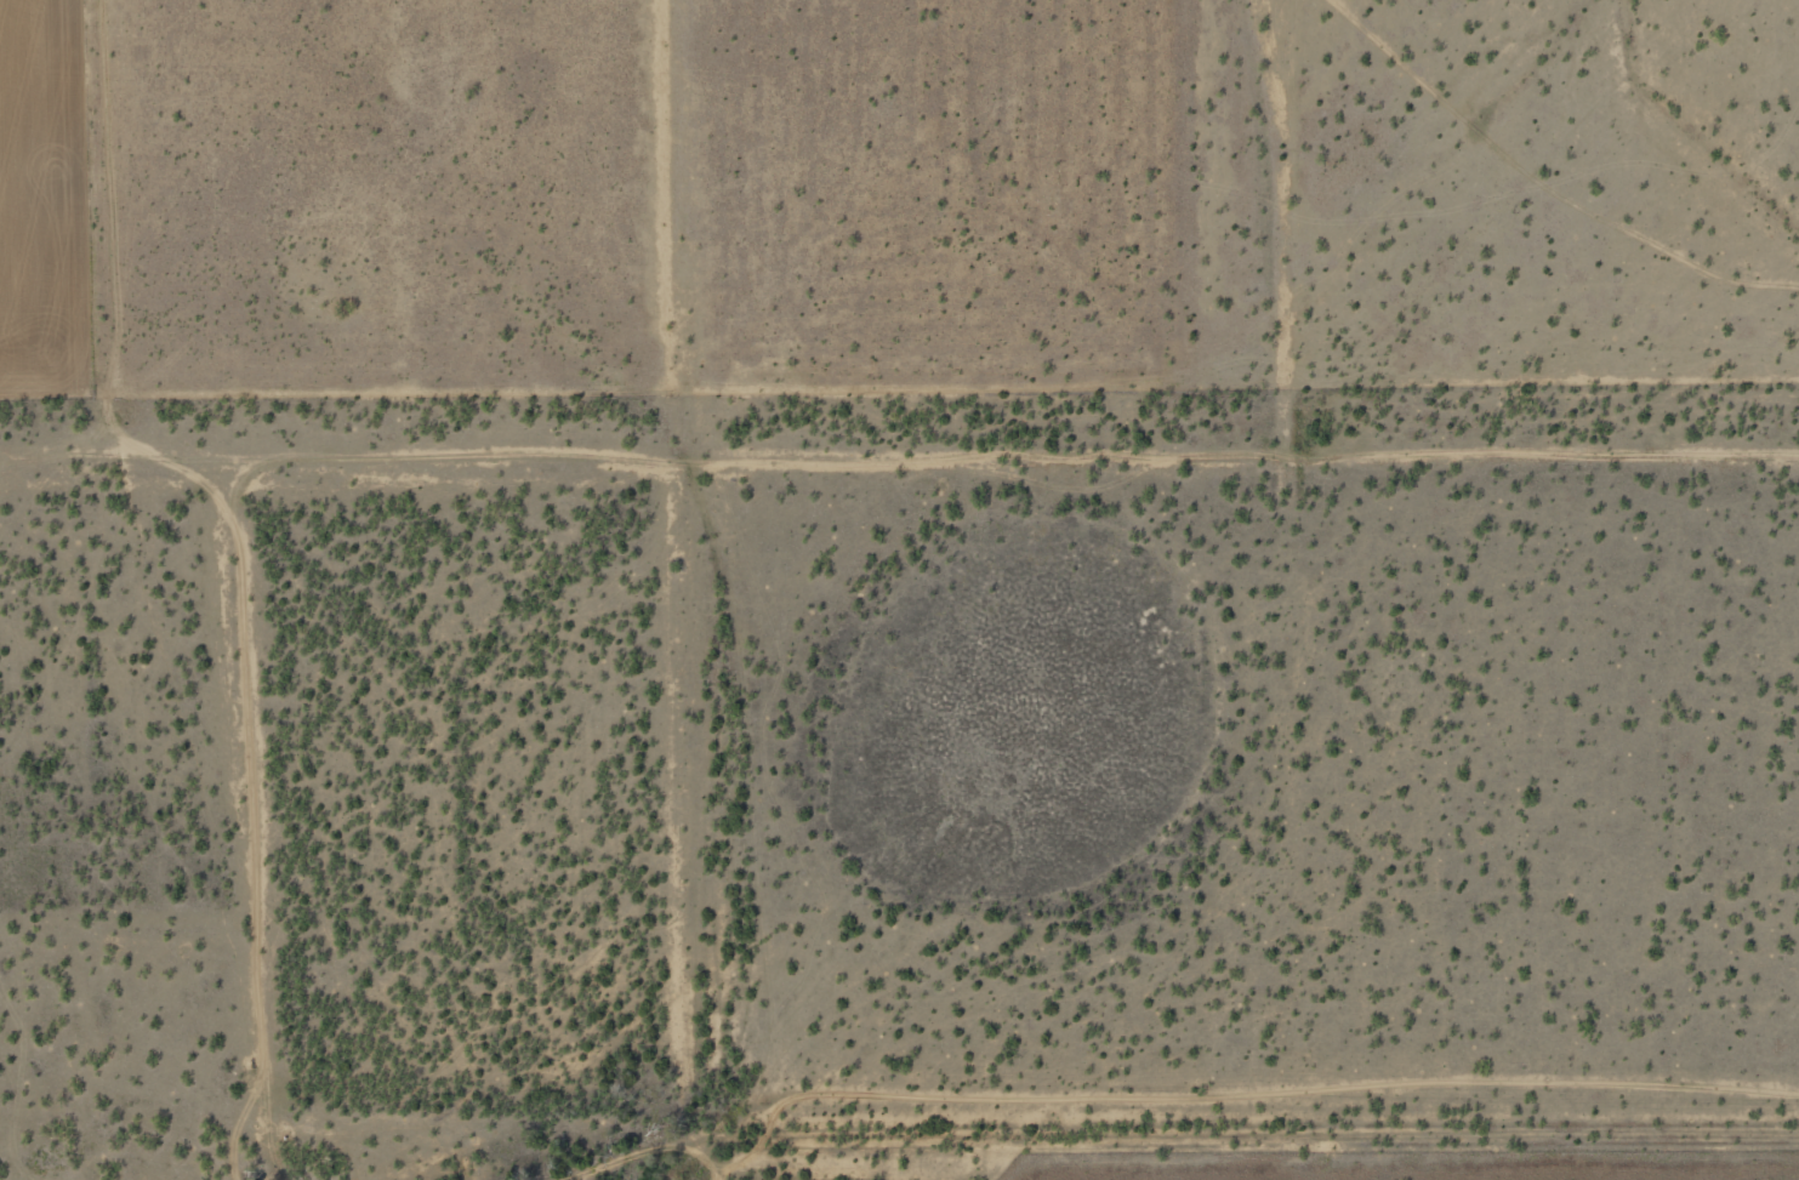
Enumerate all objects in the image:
road: (1720, 1170)

